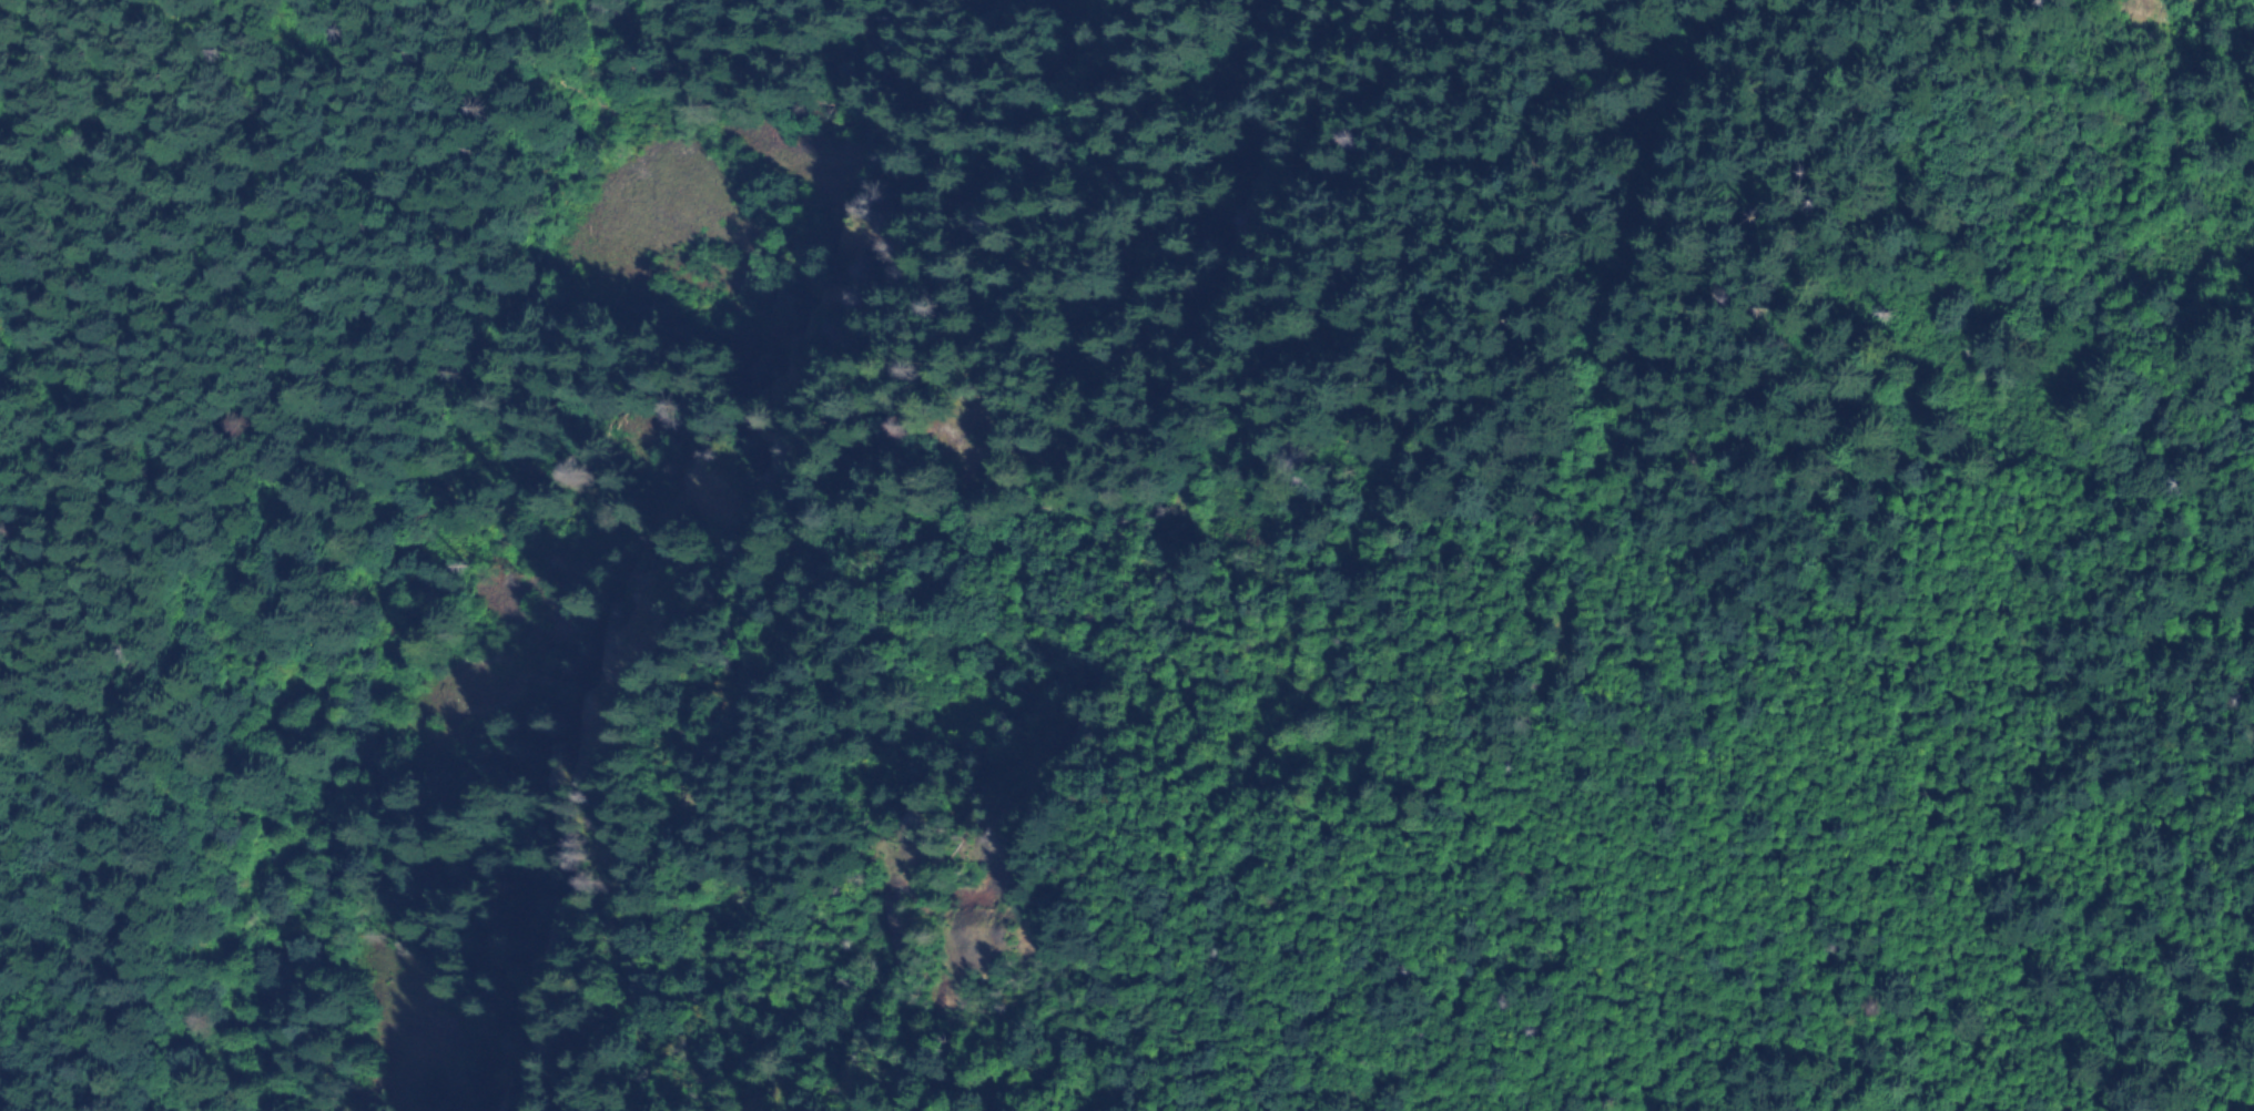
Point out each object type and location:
road: (1587, 289)
road: (1911, 567)
road: (1561, 642)
road: (1435, 845)

